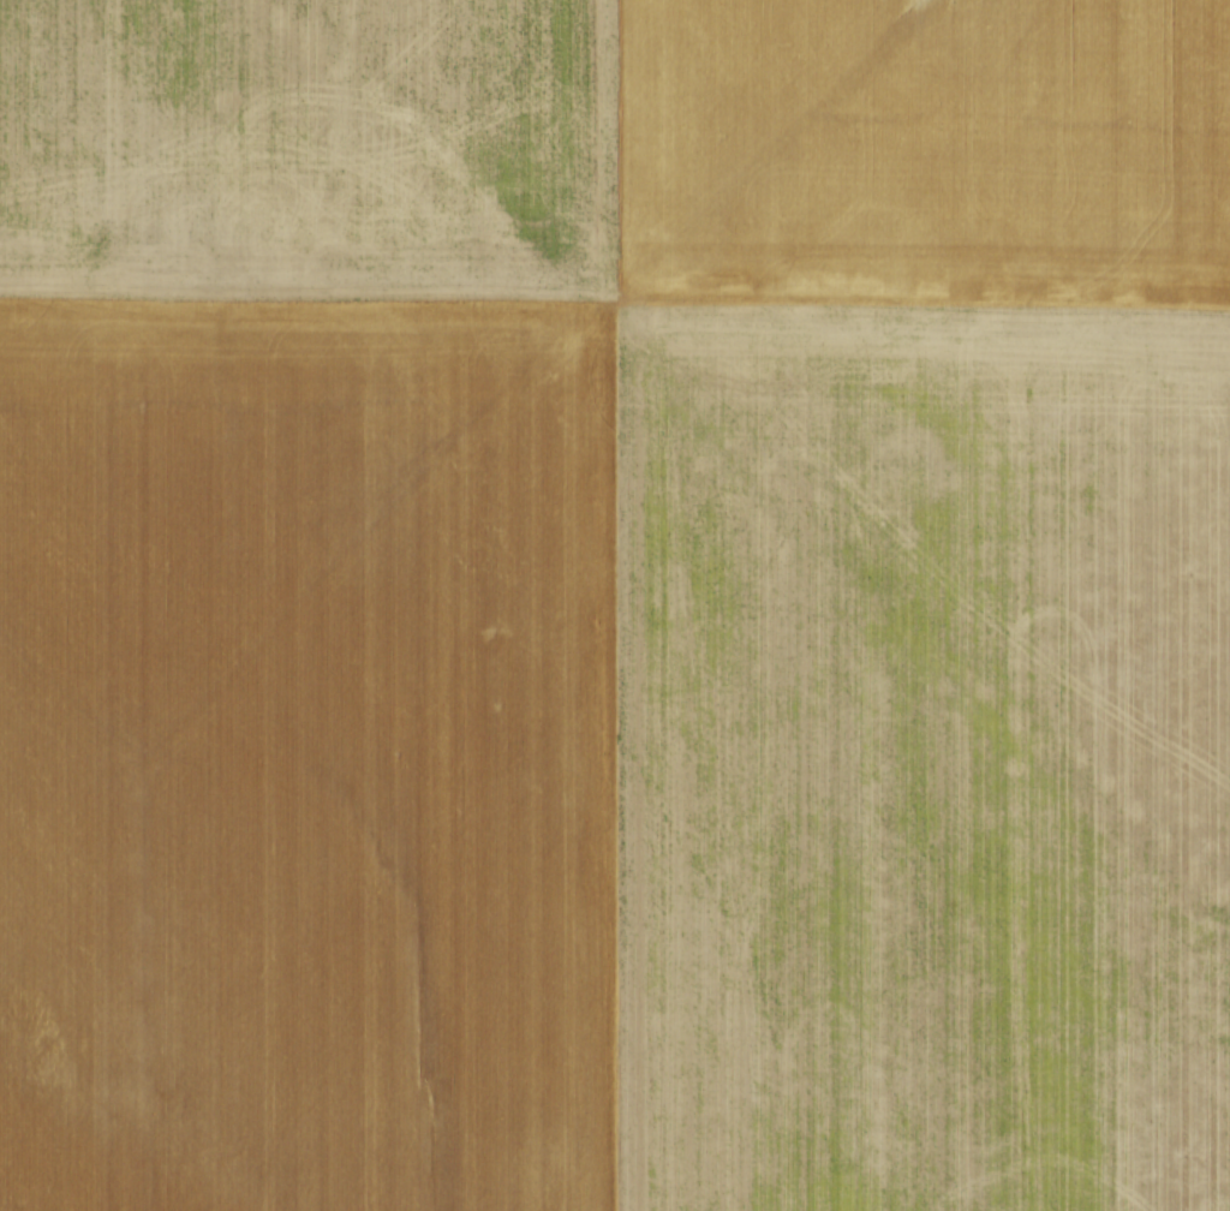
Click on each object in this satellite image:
crop: (615, 605)

